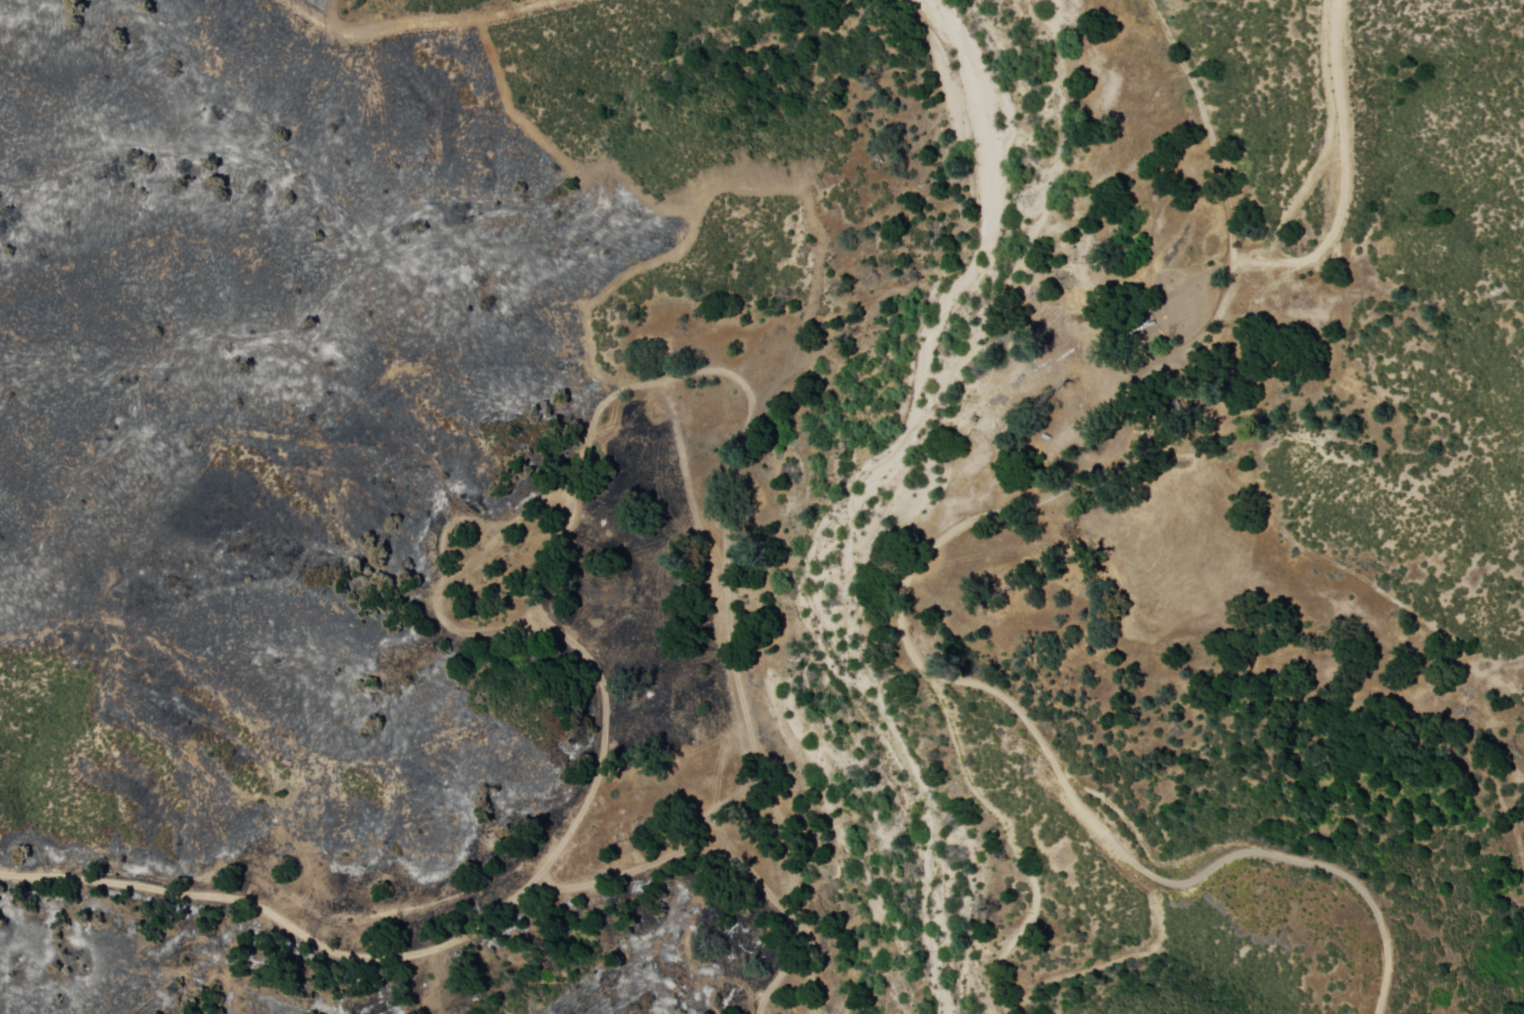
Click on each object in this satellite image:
road: (975, 766)
road: (458, 929)

